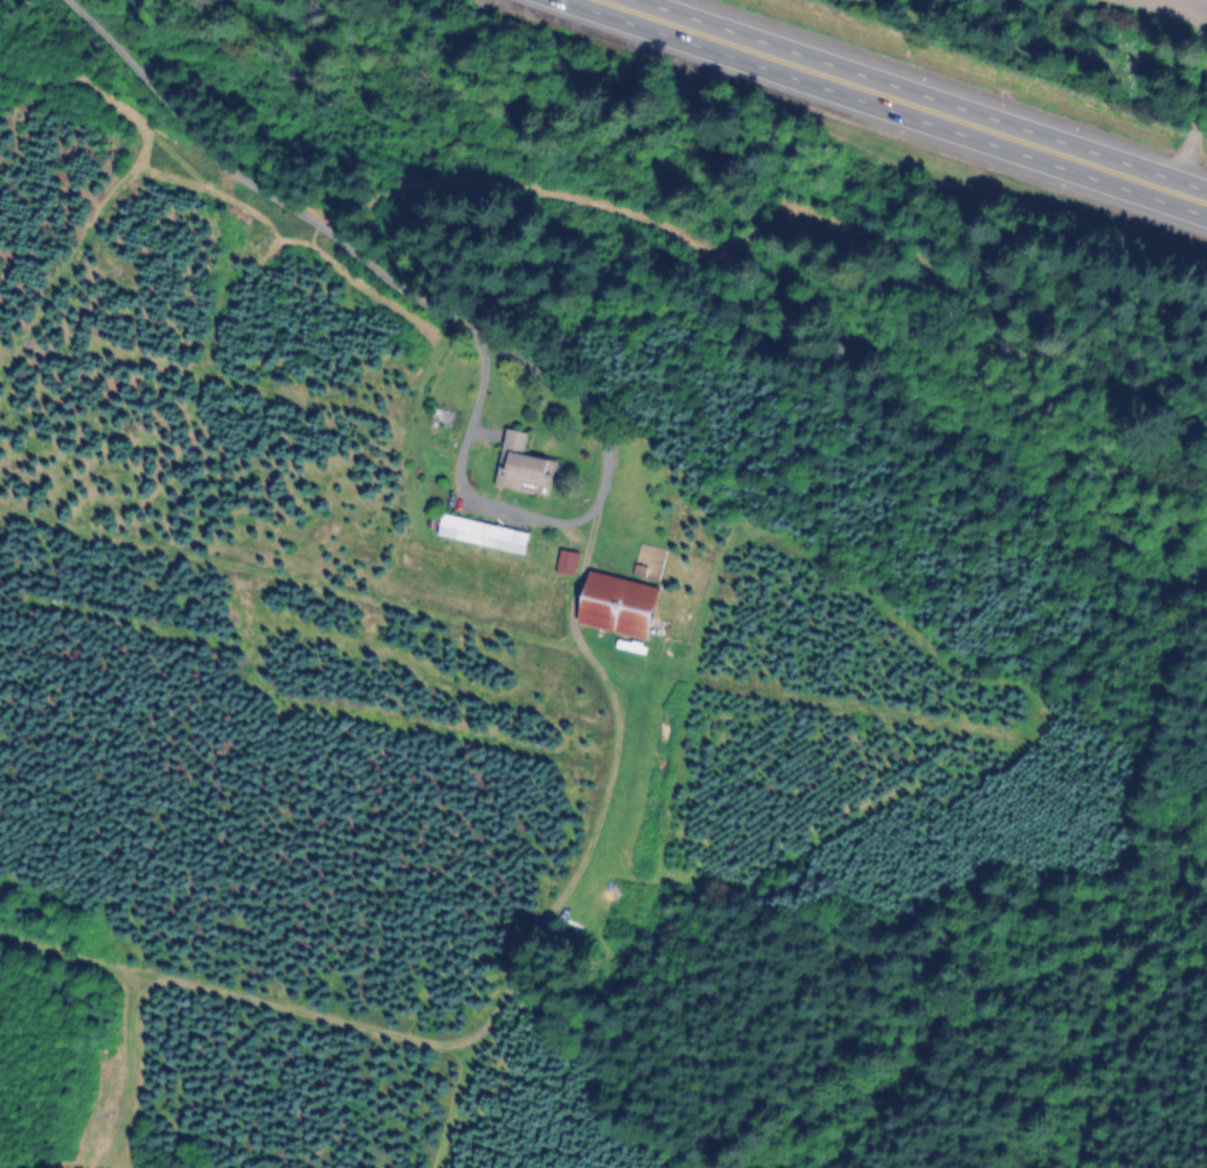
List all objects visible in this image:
road: (1173, 6)
road: (911, 96)
road: (1191, 144)
road: (254, 178)
building: (518, 468)
road: (561, 515)
building: (476, 535)
building: (563, 565)
building: (608, 606)

